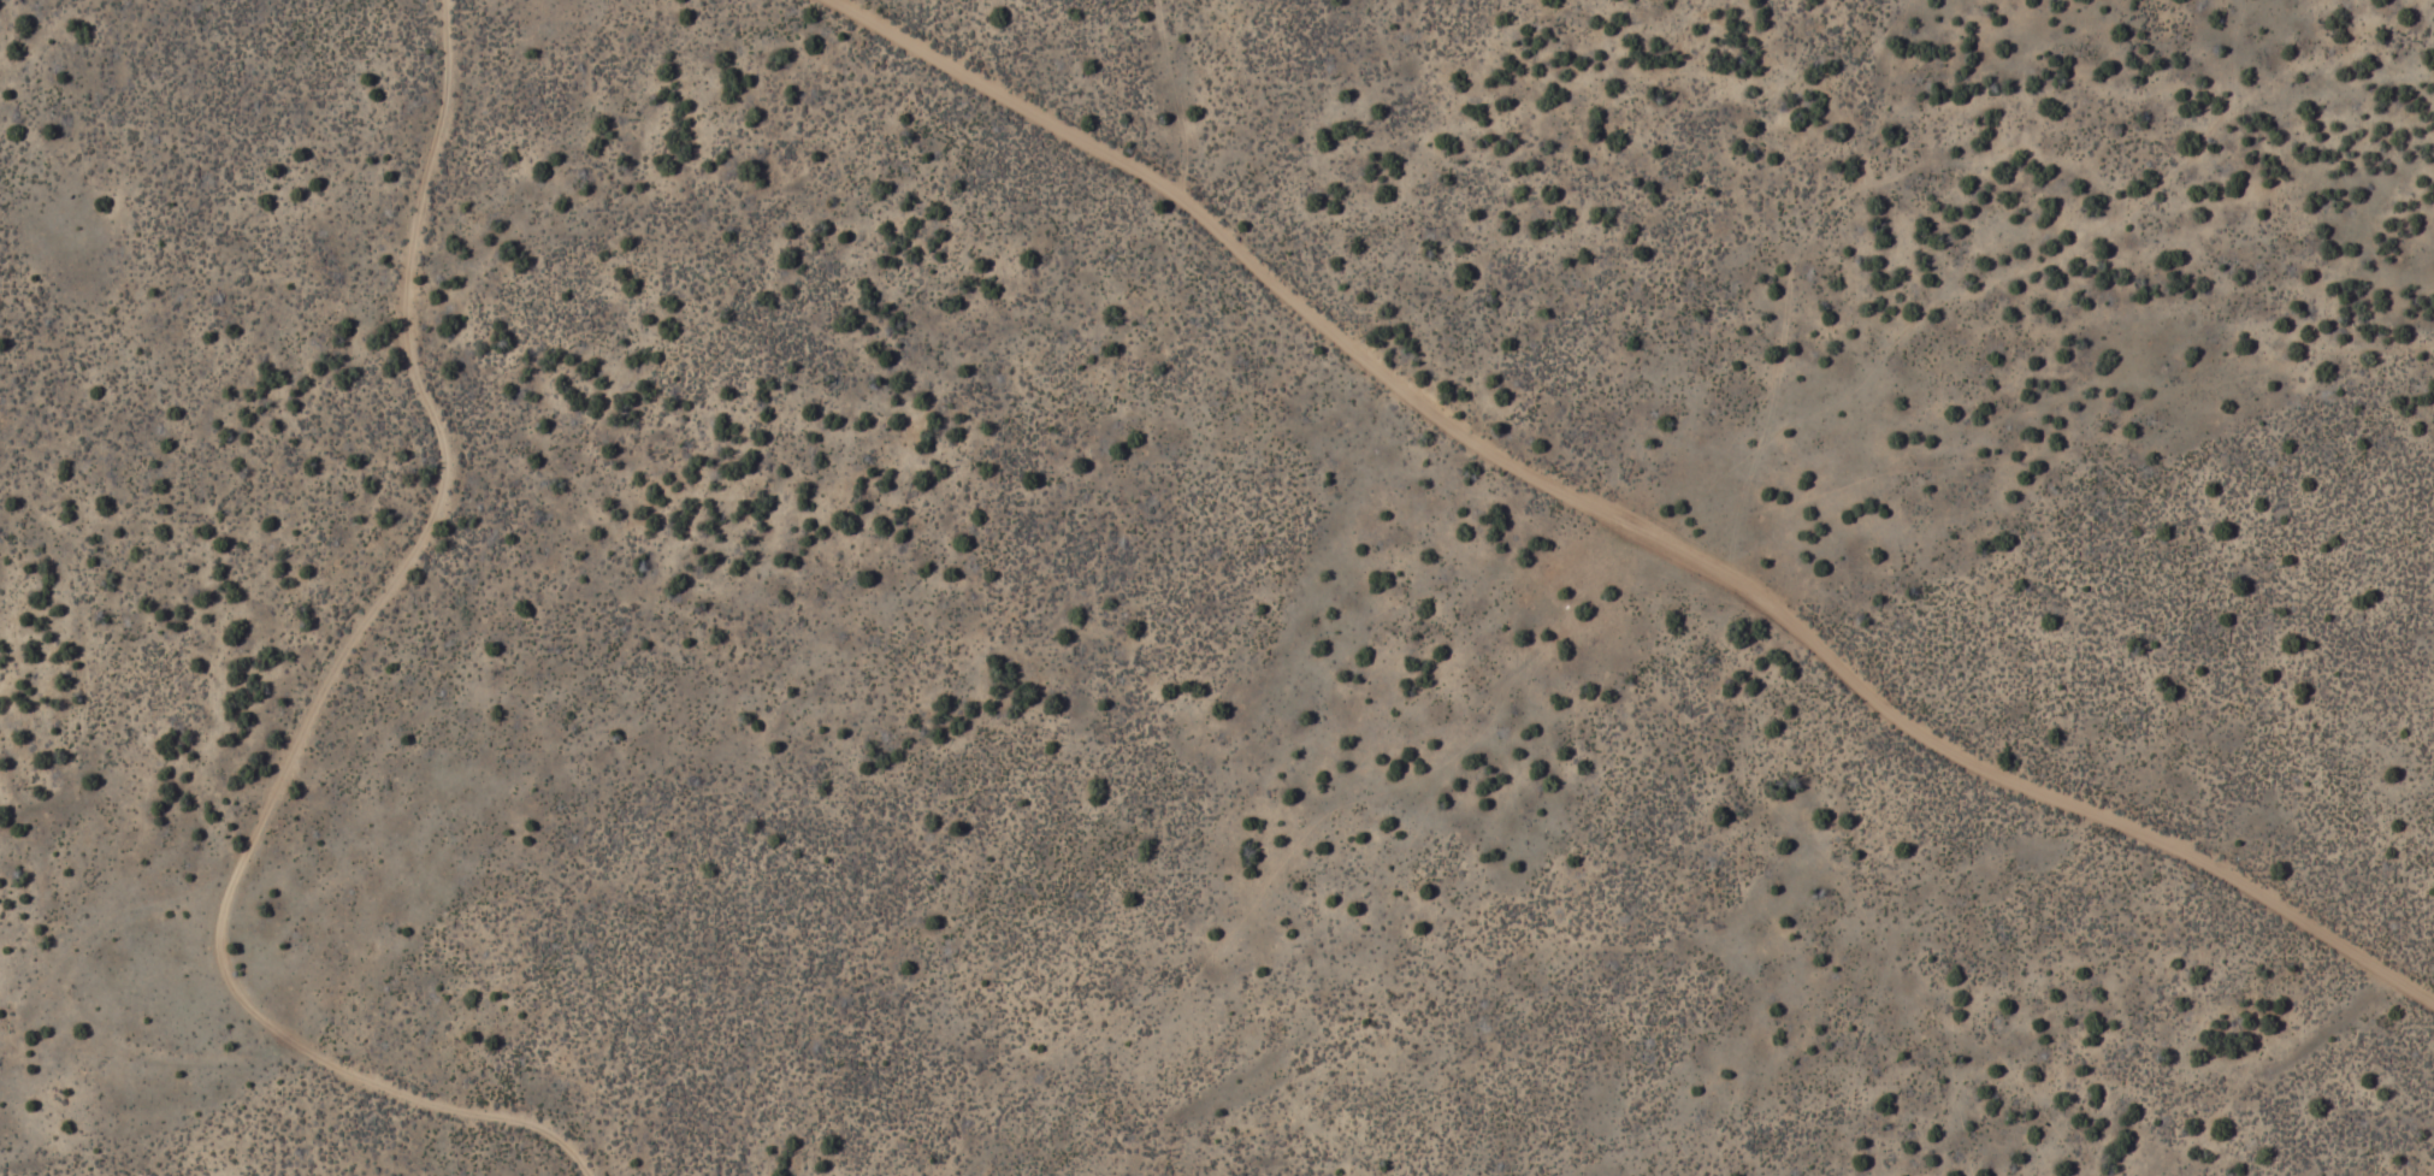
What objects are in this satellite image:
road: (1618, 526)
road: (283, 785)

